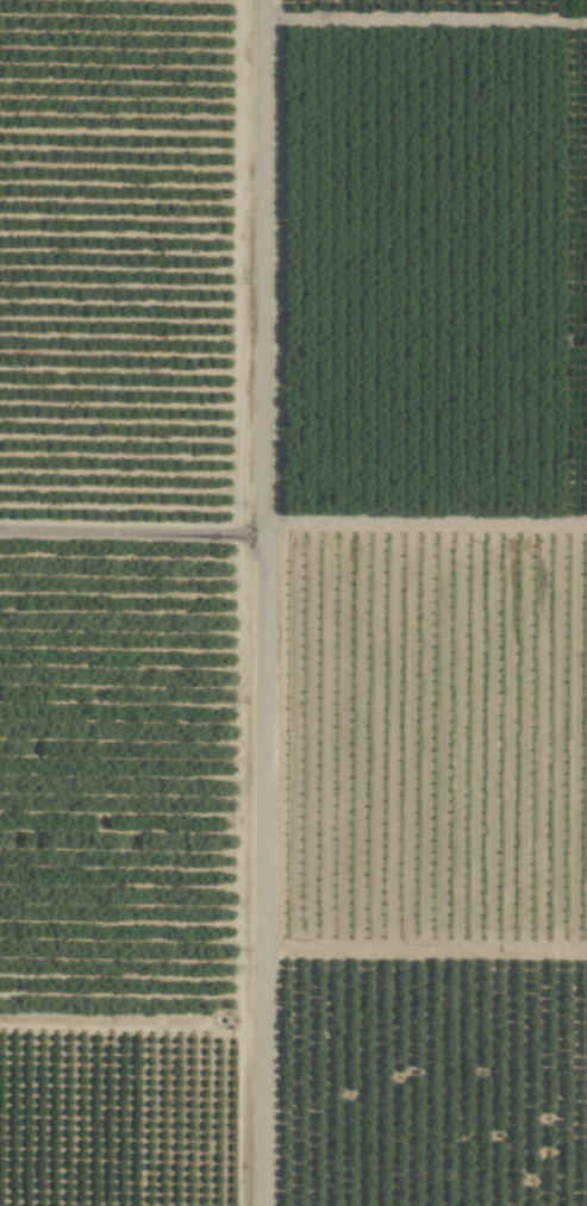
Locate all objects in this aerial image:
road: (136, 533)
road: (271, 602)

